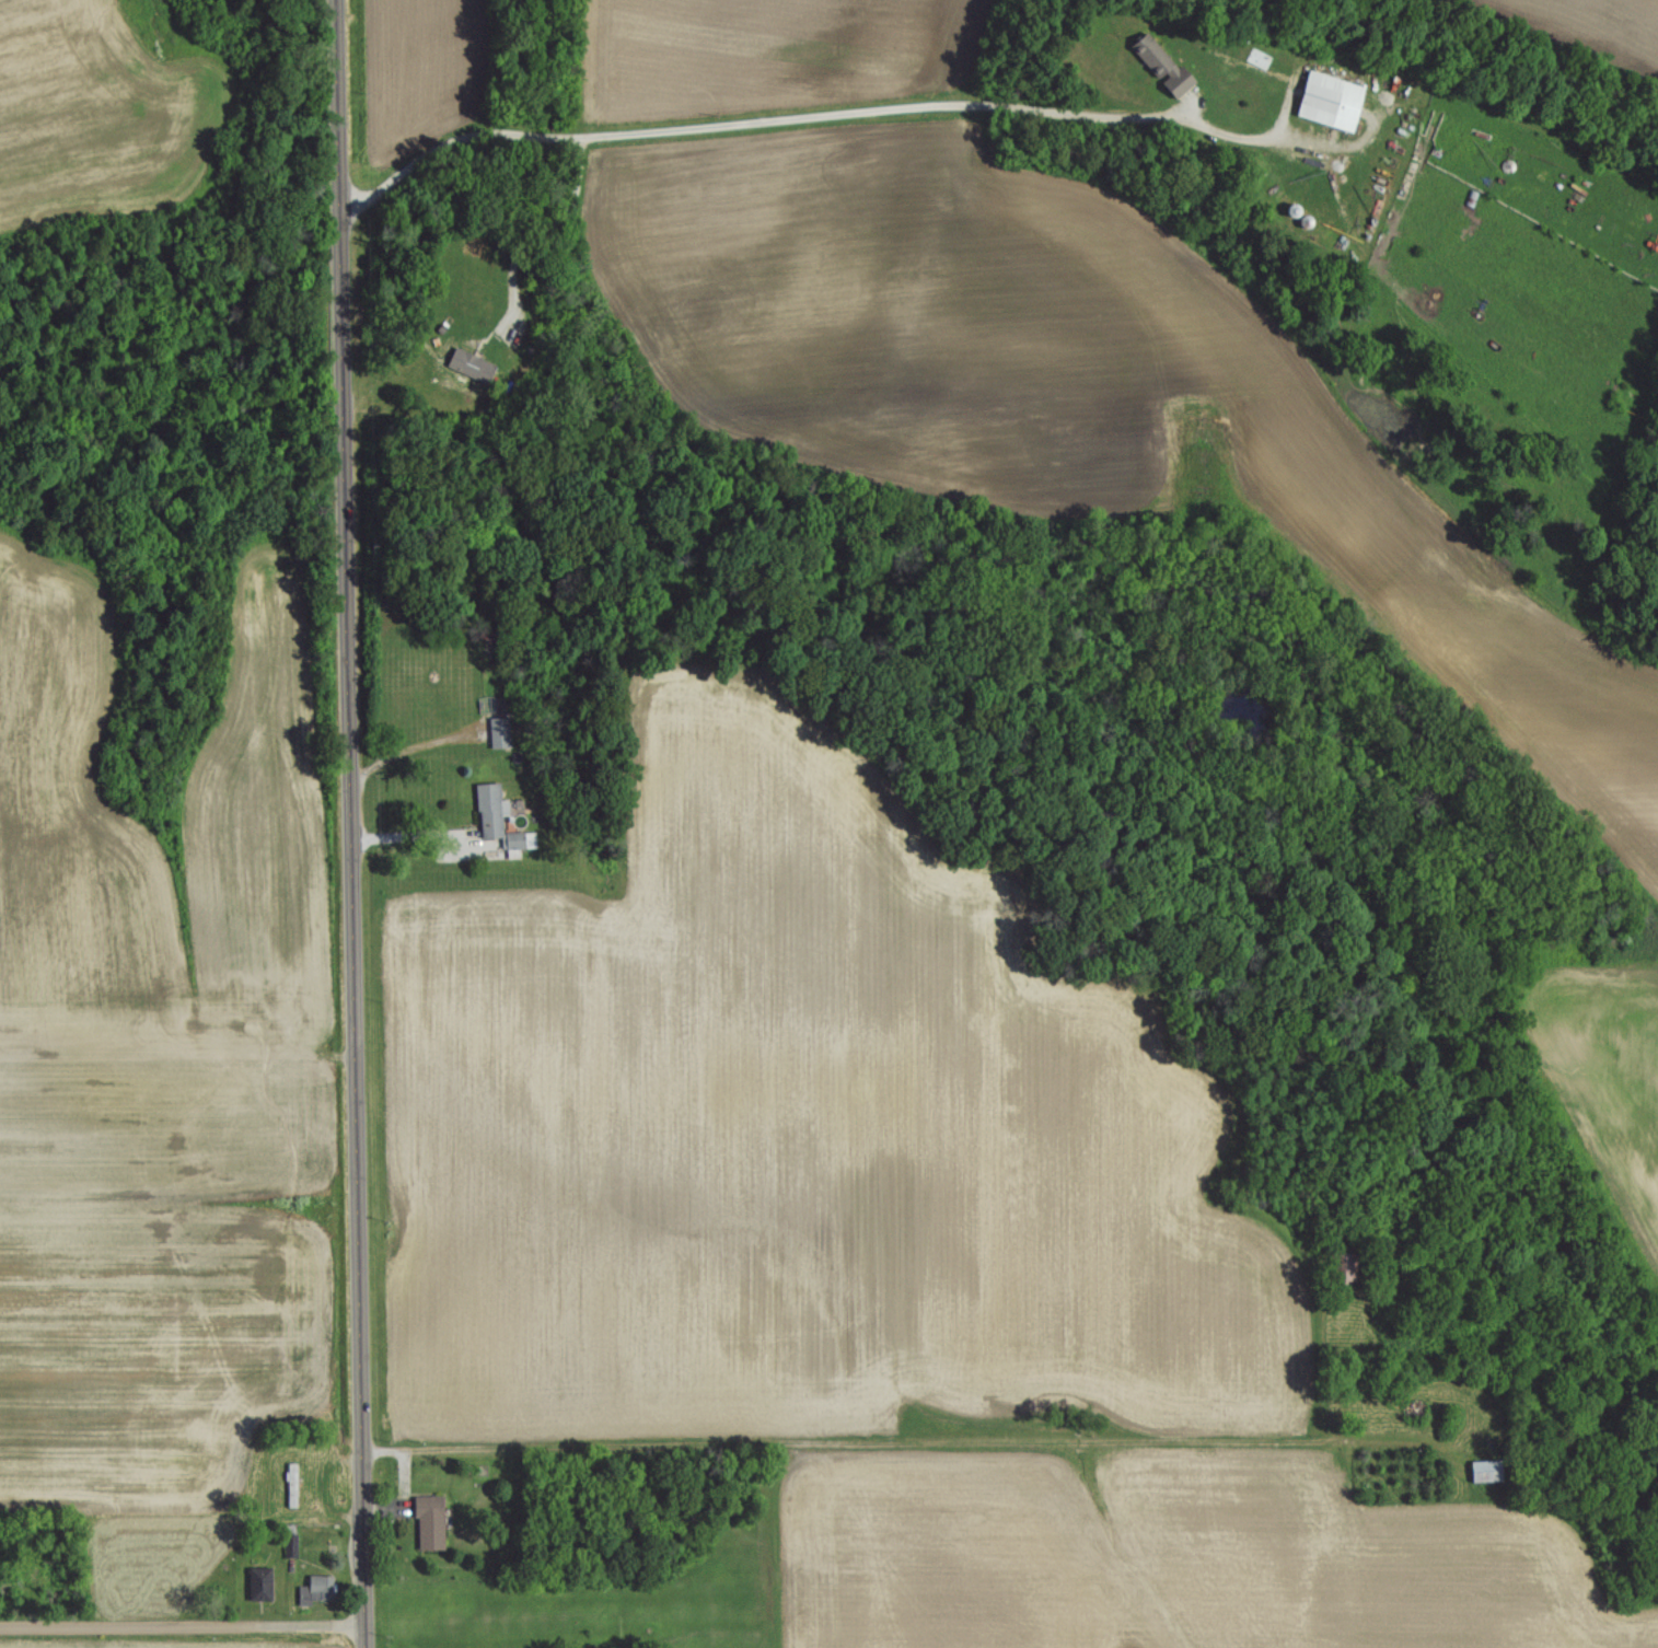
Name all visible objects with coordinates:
road: (742, 126)
road: (1247, 136)
road: (518, 241)
road: (415, 741)
road: (348, 811)
road: (421, 837)
road: (926, 1441)
road: (181, 1627)
road: (362, 1635)

